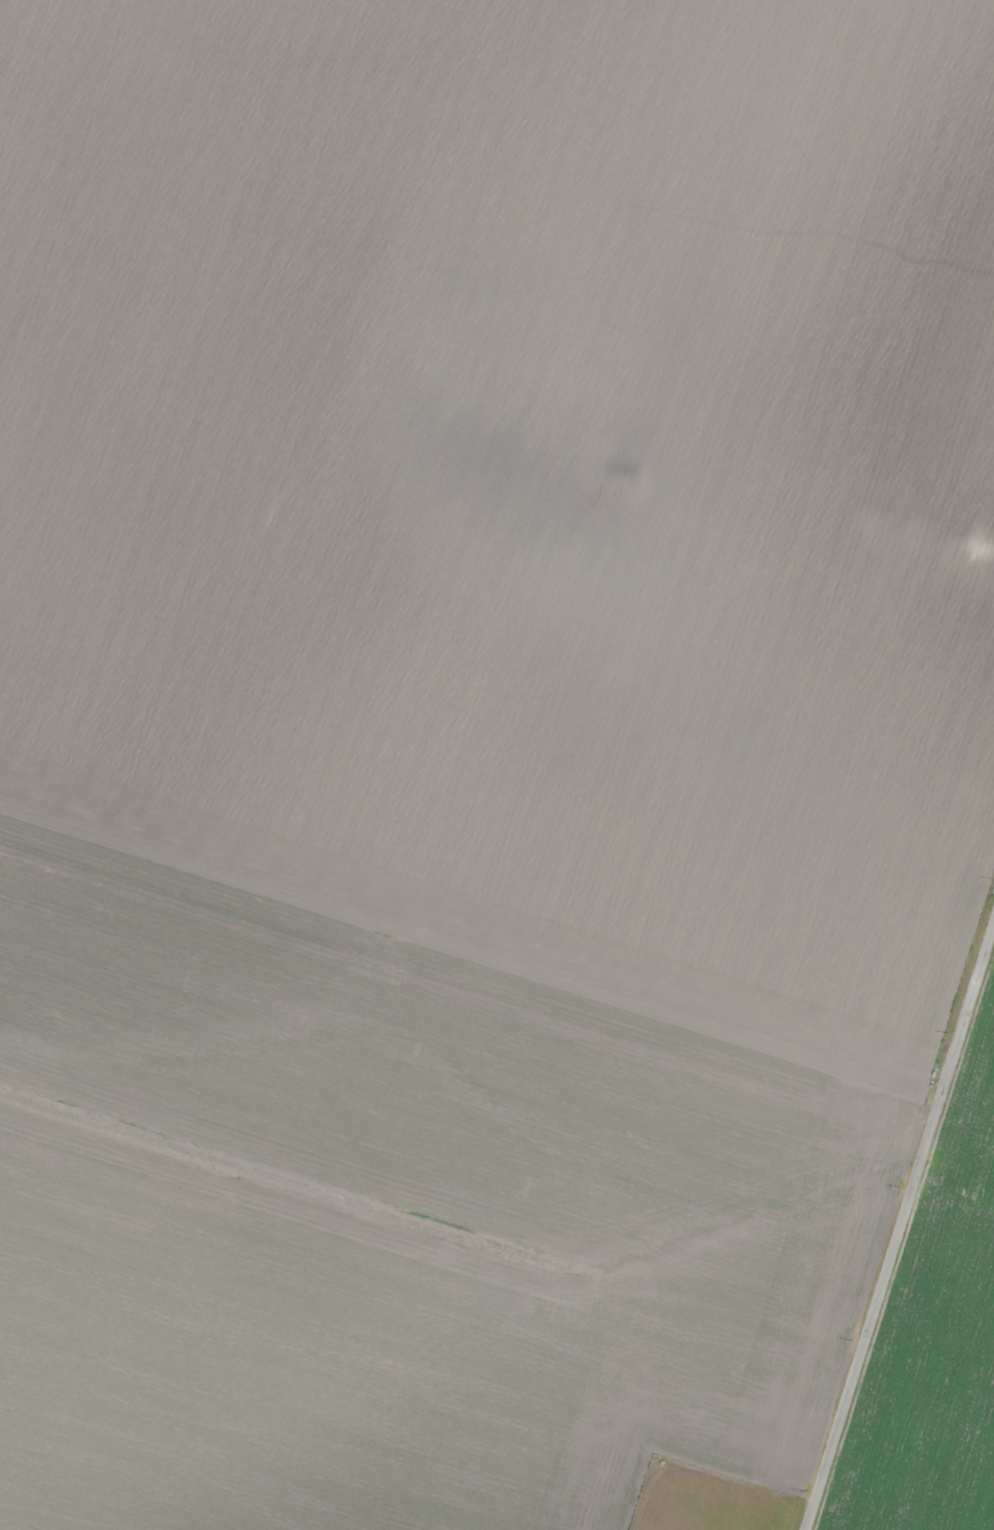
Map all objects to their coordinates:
road: (899, 1232)

